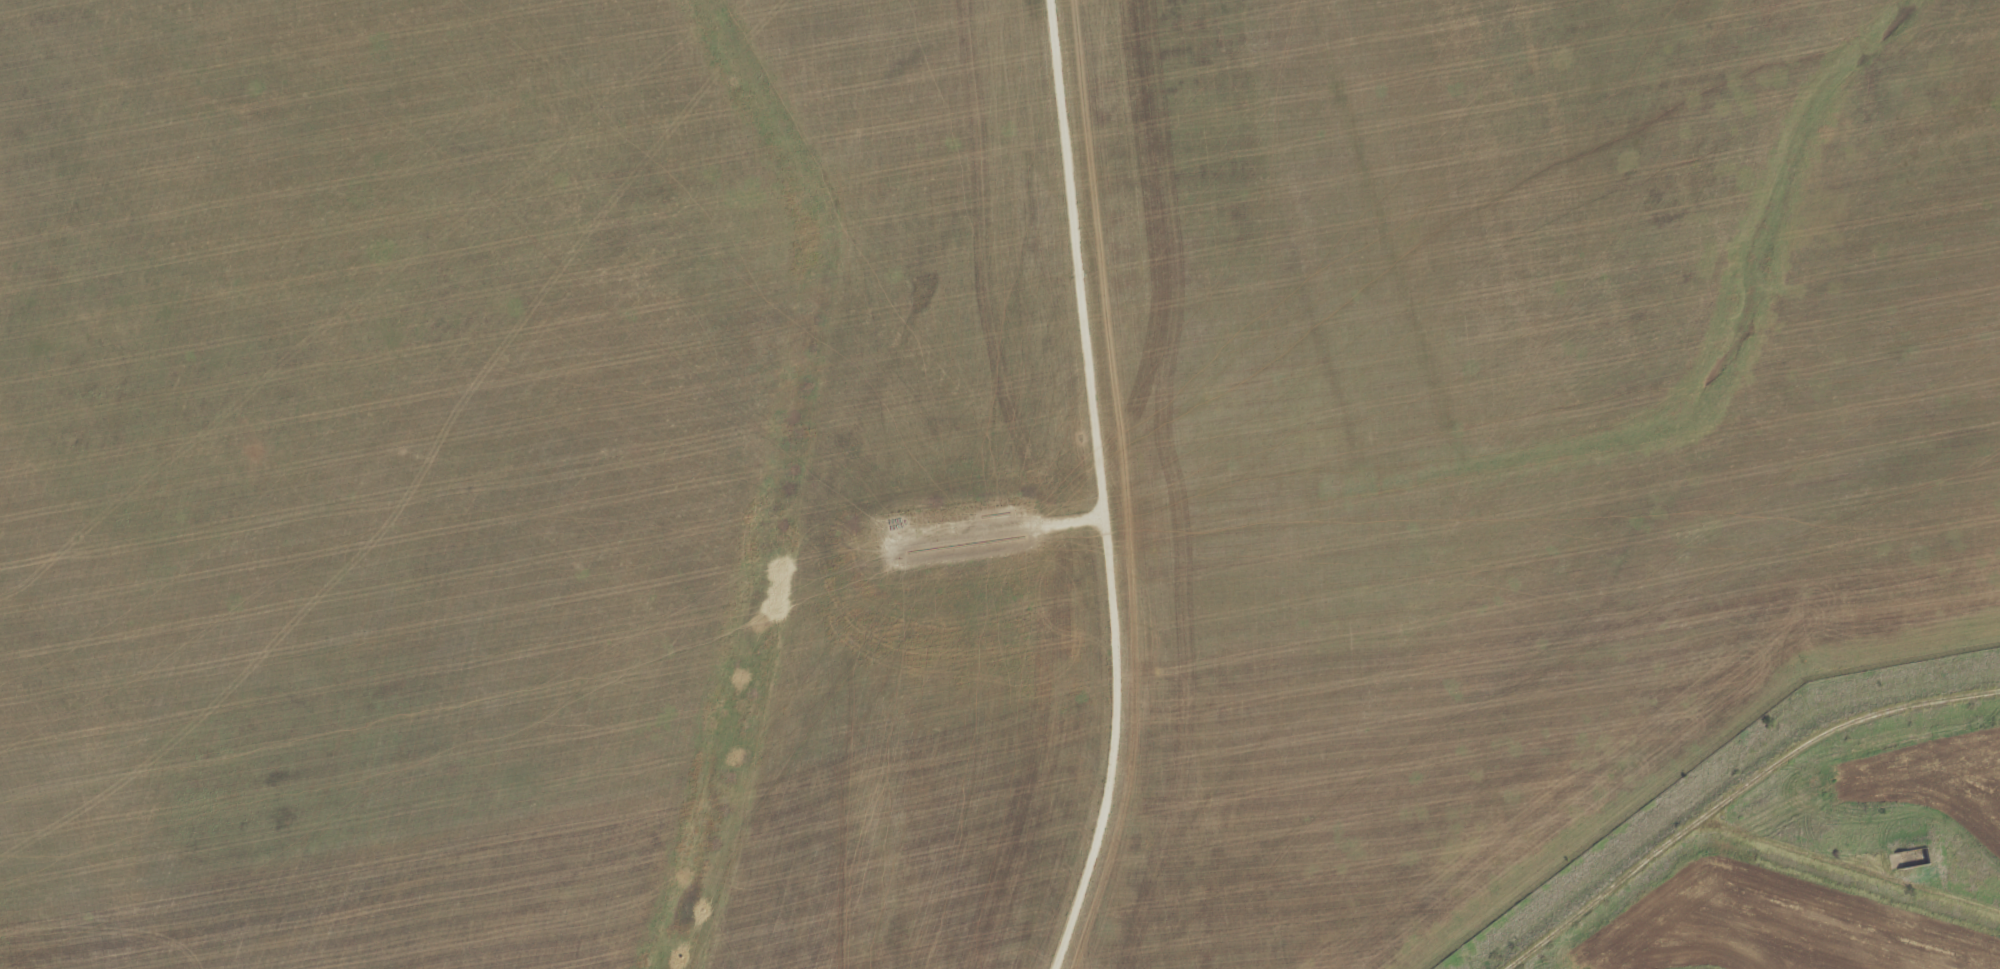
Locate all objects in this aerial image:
road: (1115, 488)
road: (1738, 792)
building: (1910, 857)
road: (1852, 866)

